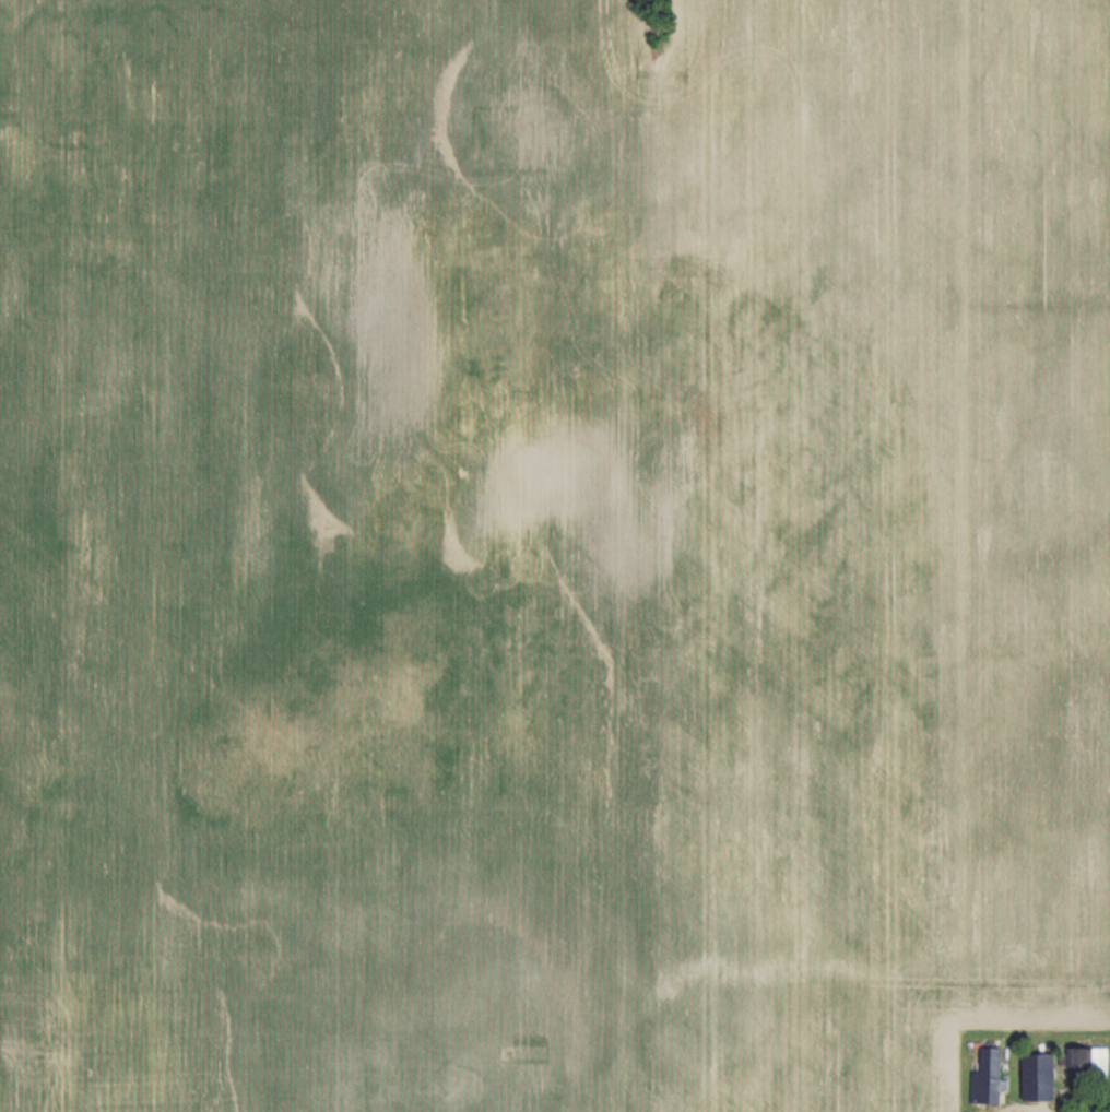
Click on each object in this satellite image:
building: (1088, 1062)
building: (985, 1076)
building: (1035, 1076)

